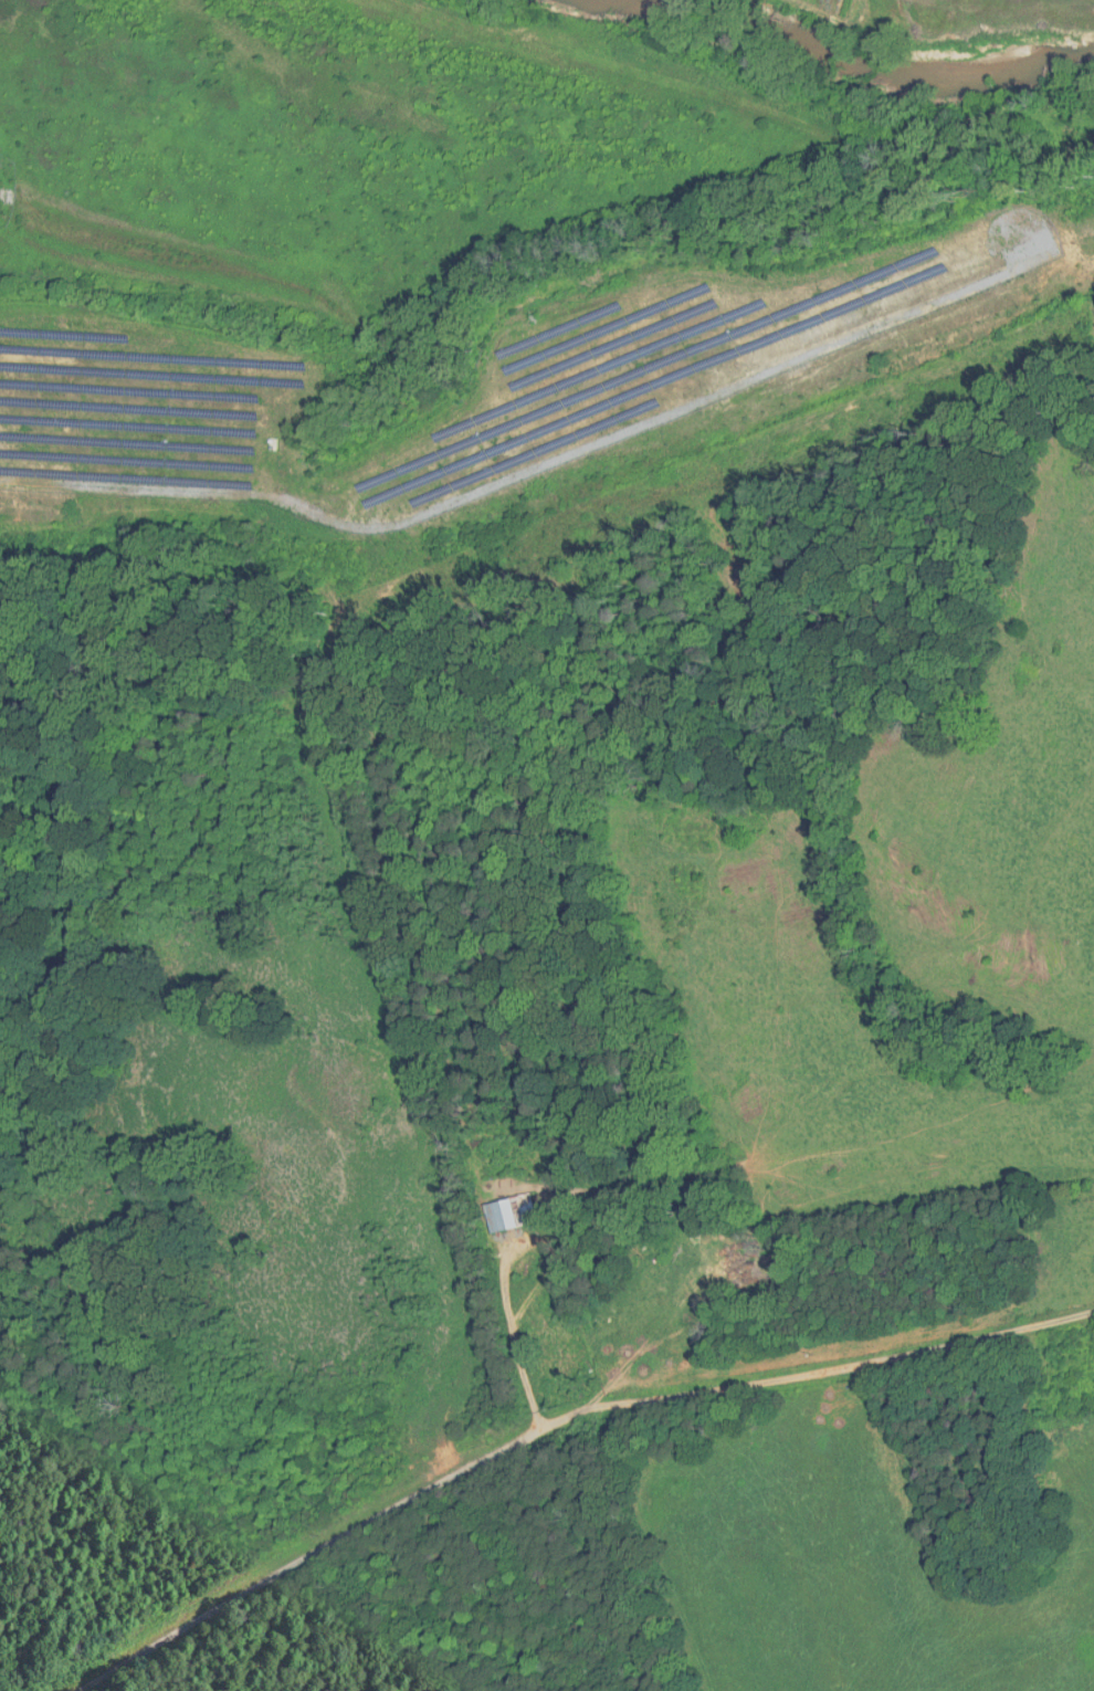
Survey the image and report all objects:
road: (833, 17)
building: (509, 1211)

